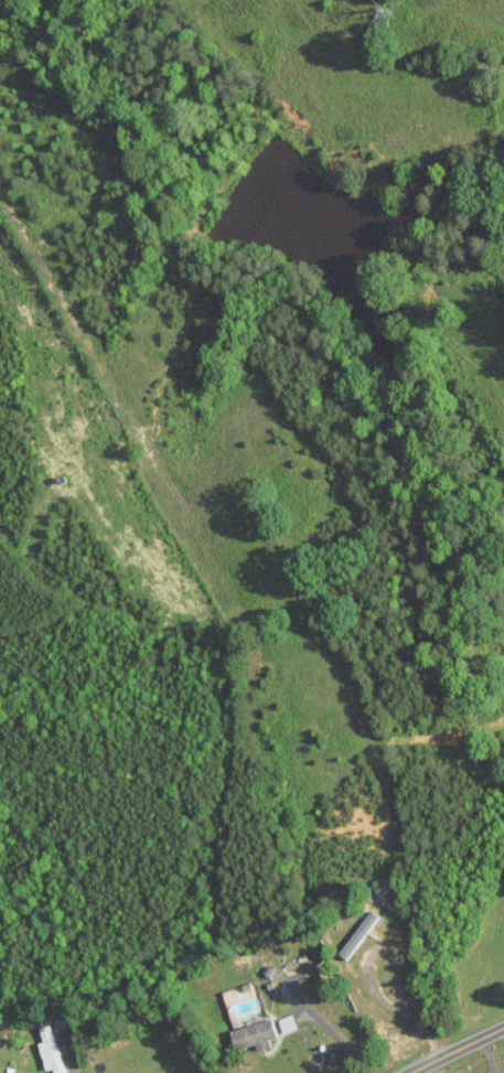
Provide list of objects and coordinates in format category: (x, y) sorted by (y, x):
building: (360, 933)
road: (399, 1009)
building: (288, 1021)
road: (329, 1028)
building: (256, 1033)
building: (51, 1049)
road: (455, 1050)

